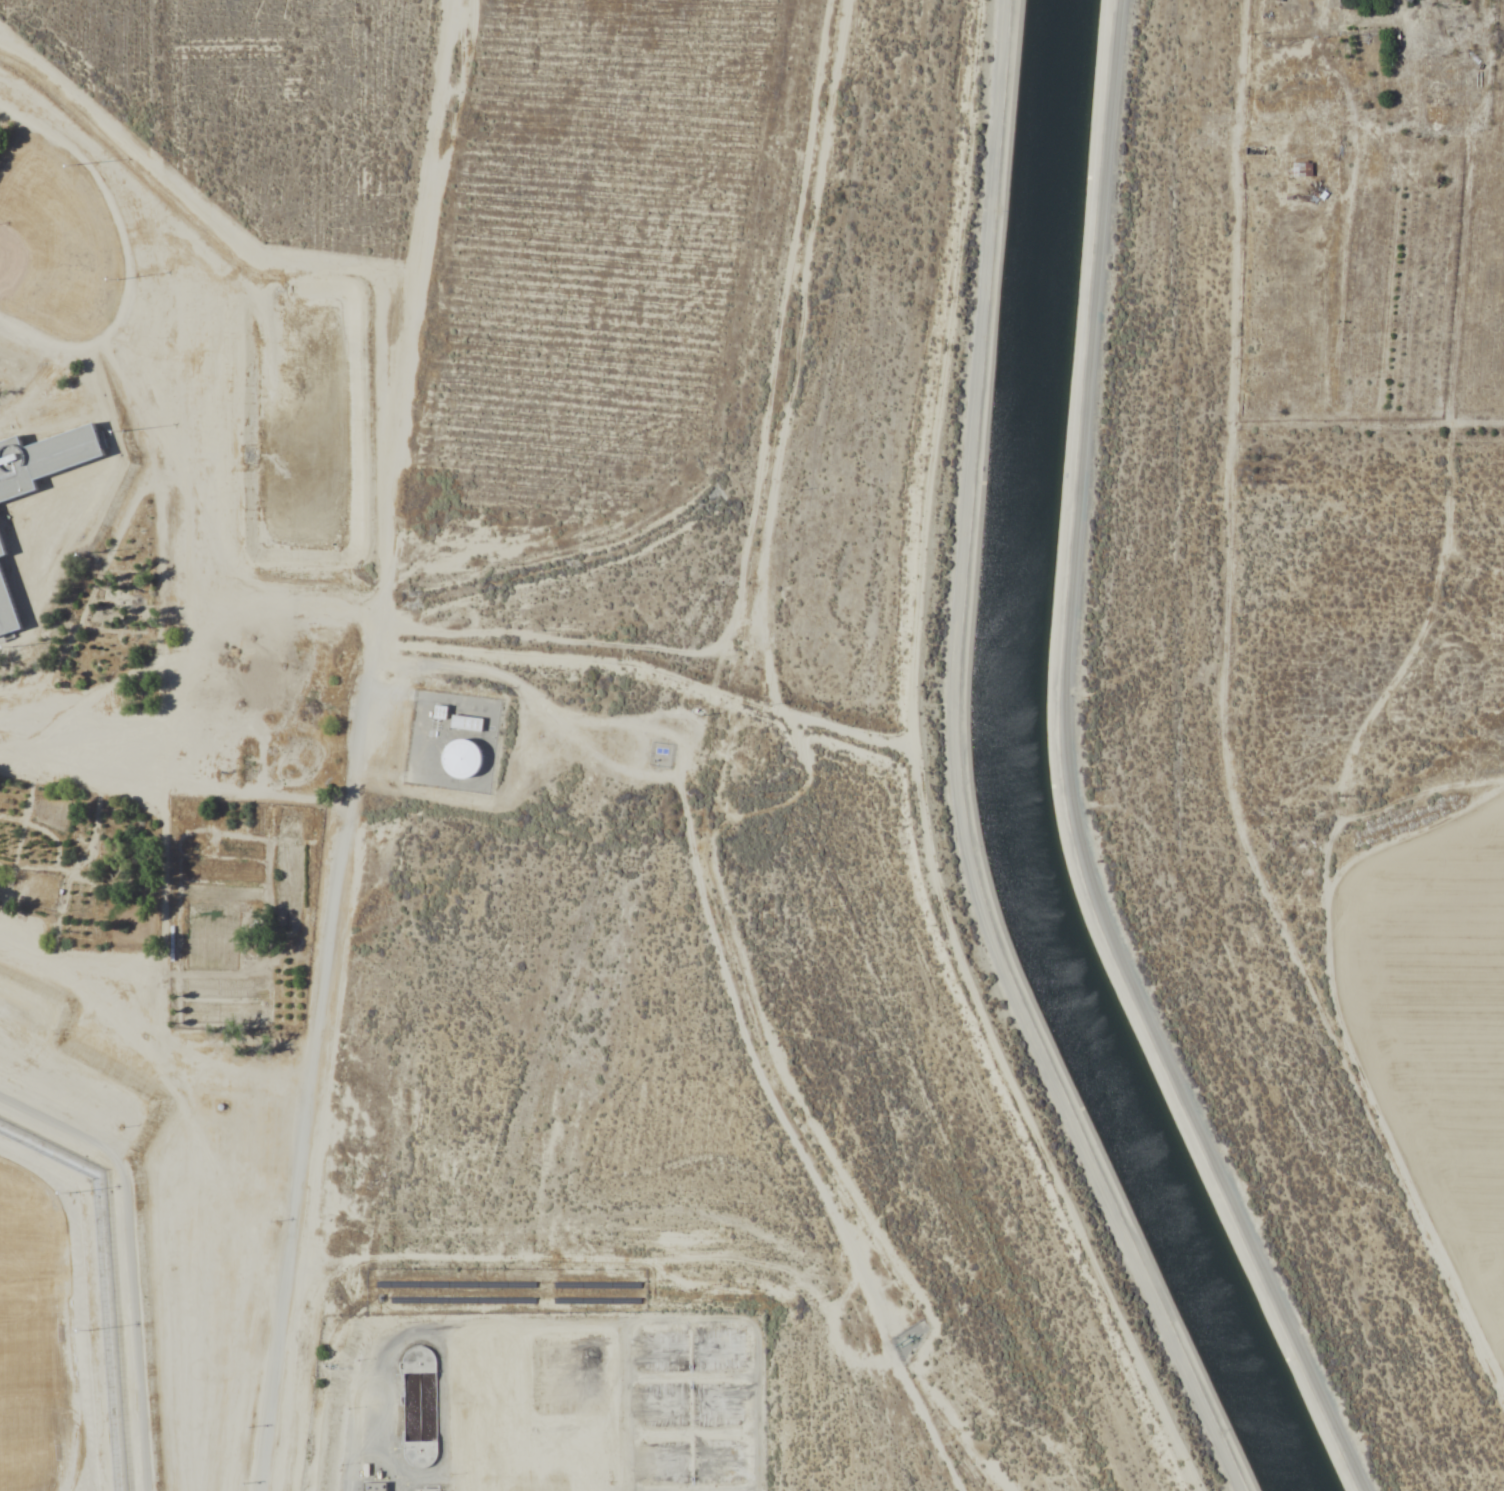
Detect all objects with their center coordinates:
building: (1406, 1)
road: (1407, 125)
building: (1299, 170)
park: (54, 241)
building: (44, 459)
building: (1, 549)
building: (6, 610)
building: (442, 712)
building: (468, 723)
building: (463, 758)
road: (955, 773)
road: (1070, 775)
road: (782, 799)
crop: (1439, 986)
park: (29, 1225)
road: (129, 1258)
park: (29, 1337)
park: (33, 1444)
building: (376, 1486)

